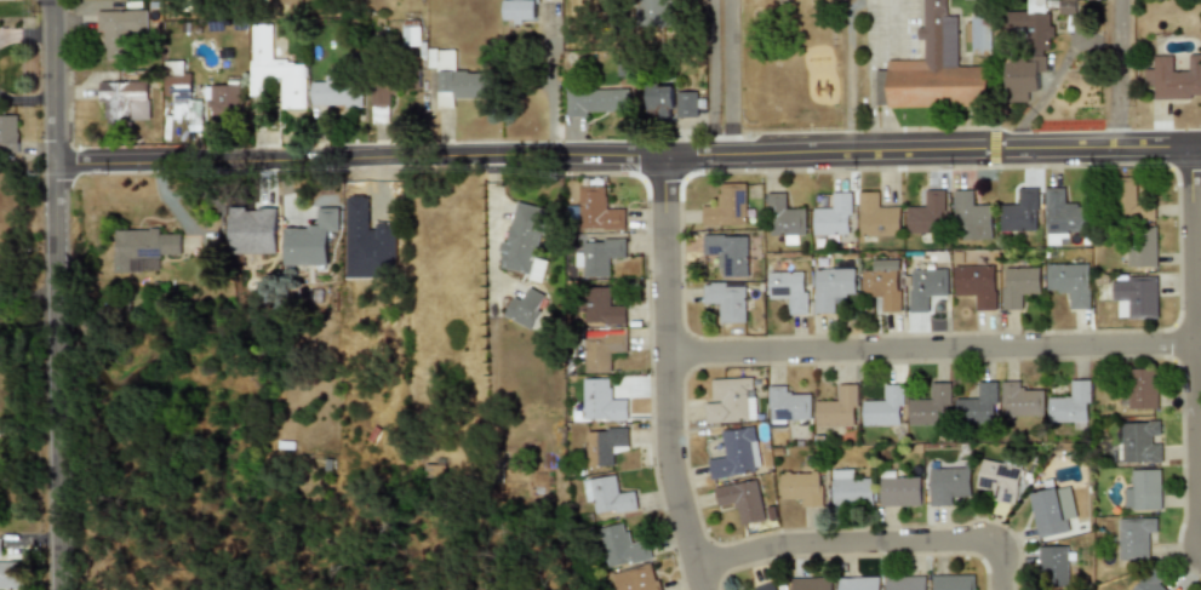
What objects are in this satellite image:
building: (1066, 7)
building: (520, 10)
building: (653, 12)
building: (119, 30)
building: (411, 33)
building: (980, 34)
building: (1029, 47)
road: (877, 63)
building: (275, 69)
building: (937, 69)
road: (1116, 75)
road: (726, 76)
building: (1174, 78)
road: (550, 79)
building: (458, 81)
road: (882, 84)
building: (336, 91)
building: (379, 96)
building: (225, 101)
building: (595, 101)
building: (125, 102)
building: (671, 102)
road: (869, 104)
road: (885, 126)
building: (8, 131)
road: (628, 156)
building: (1133, 202)
building: (727, 207)
building: (597, 211)
building: (1020, 212)
building: (927, 214)
building: (834, 216)
building: (1063, 216)
building: (877, 217)
building: (971, 218)
building: (785, 219)
building: (252, 230)
building: (310, 240)
building: (1142, 246)
building: (144, 250)
building: (728, 253)
building: (599, 257)
building: (1070, 282)
building: (882, 283)
building: (976, 285)
building: (1018, 286)
building: (831, 287)
building: (926, 287)
building: (789, 290)
road: (57, 294)
road: (28, 296)
building: (1137, 296)
building: (726, 300)
building: (525, 308)
building: (600, 308)
road: (934, 346)
road: (1194, 346)
building: (602, 349)
road: (668, 374)
building: (1143, 389)
building: (1020, 400)
building: (731, 401)
building: (602, 402)
building: (788, 405)
building: (1071, 405)
building: (978, 406)
building: (931, 407)
building: (837, 408)
building: (885, 408)
building: (1140, 442)
building: (605, 445)
building: (737, 453)
building: (999, 480)
building: (948, 485)
building: (801, 487)
building: (851, 489)
building: (1143, 491)
building: (607, 496)
building: (744, 502)
building: (1052, 510)
building: (1134, 537)
road: (865, 542)
building: (622, 546)
building: (0, 548)
building: (1053, 566)
building: (11, 575)
building: (635, 579)
building: (904, 583)
building: (953, 583)
building: (811, 584)
building: (1149, 584)
building: (767, 586)

